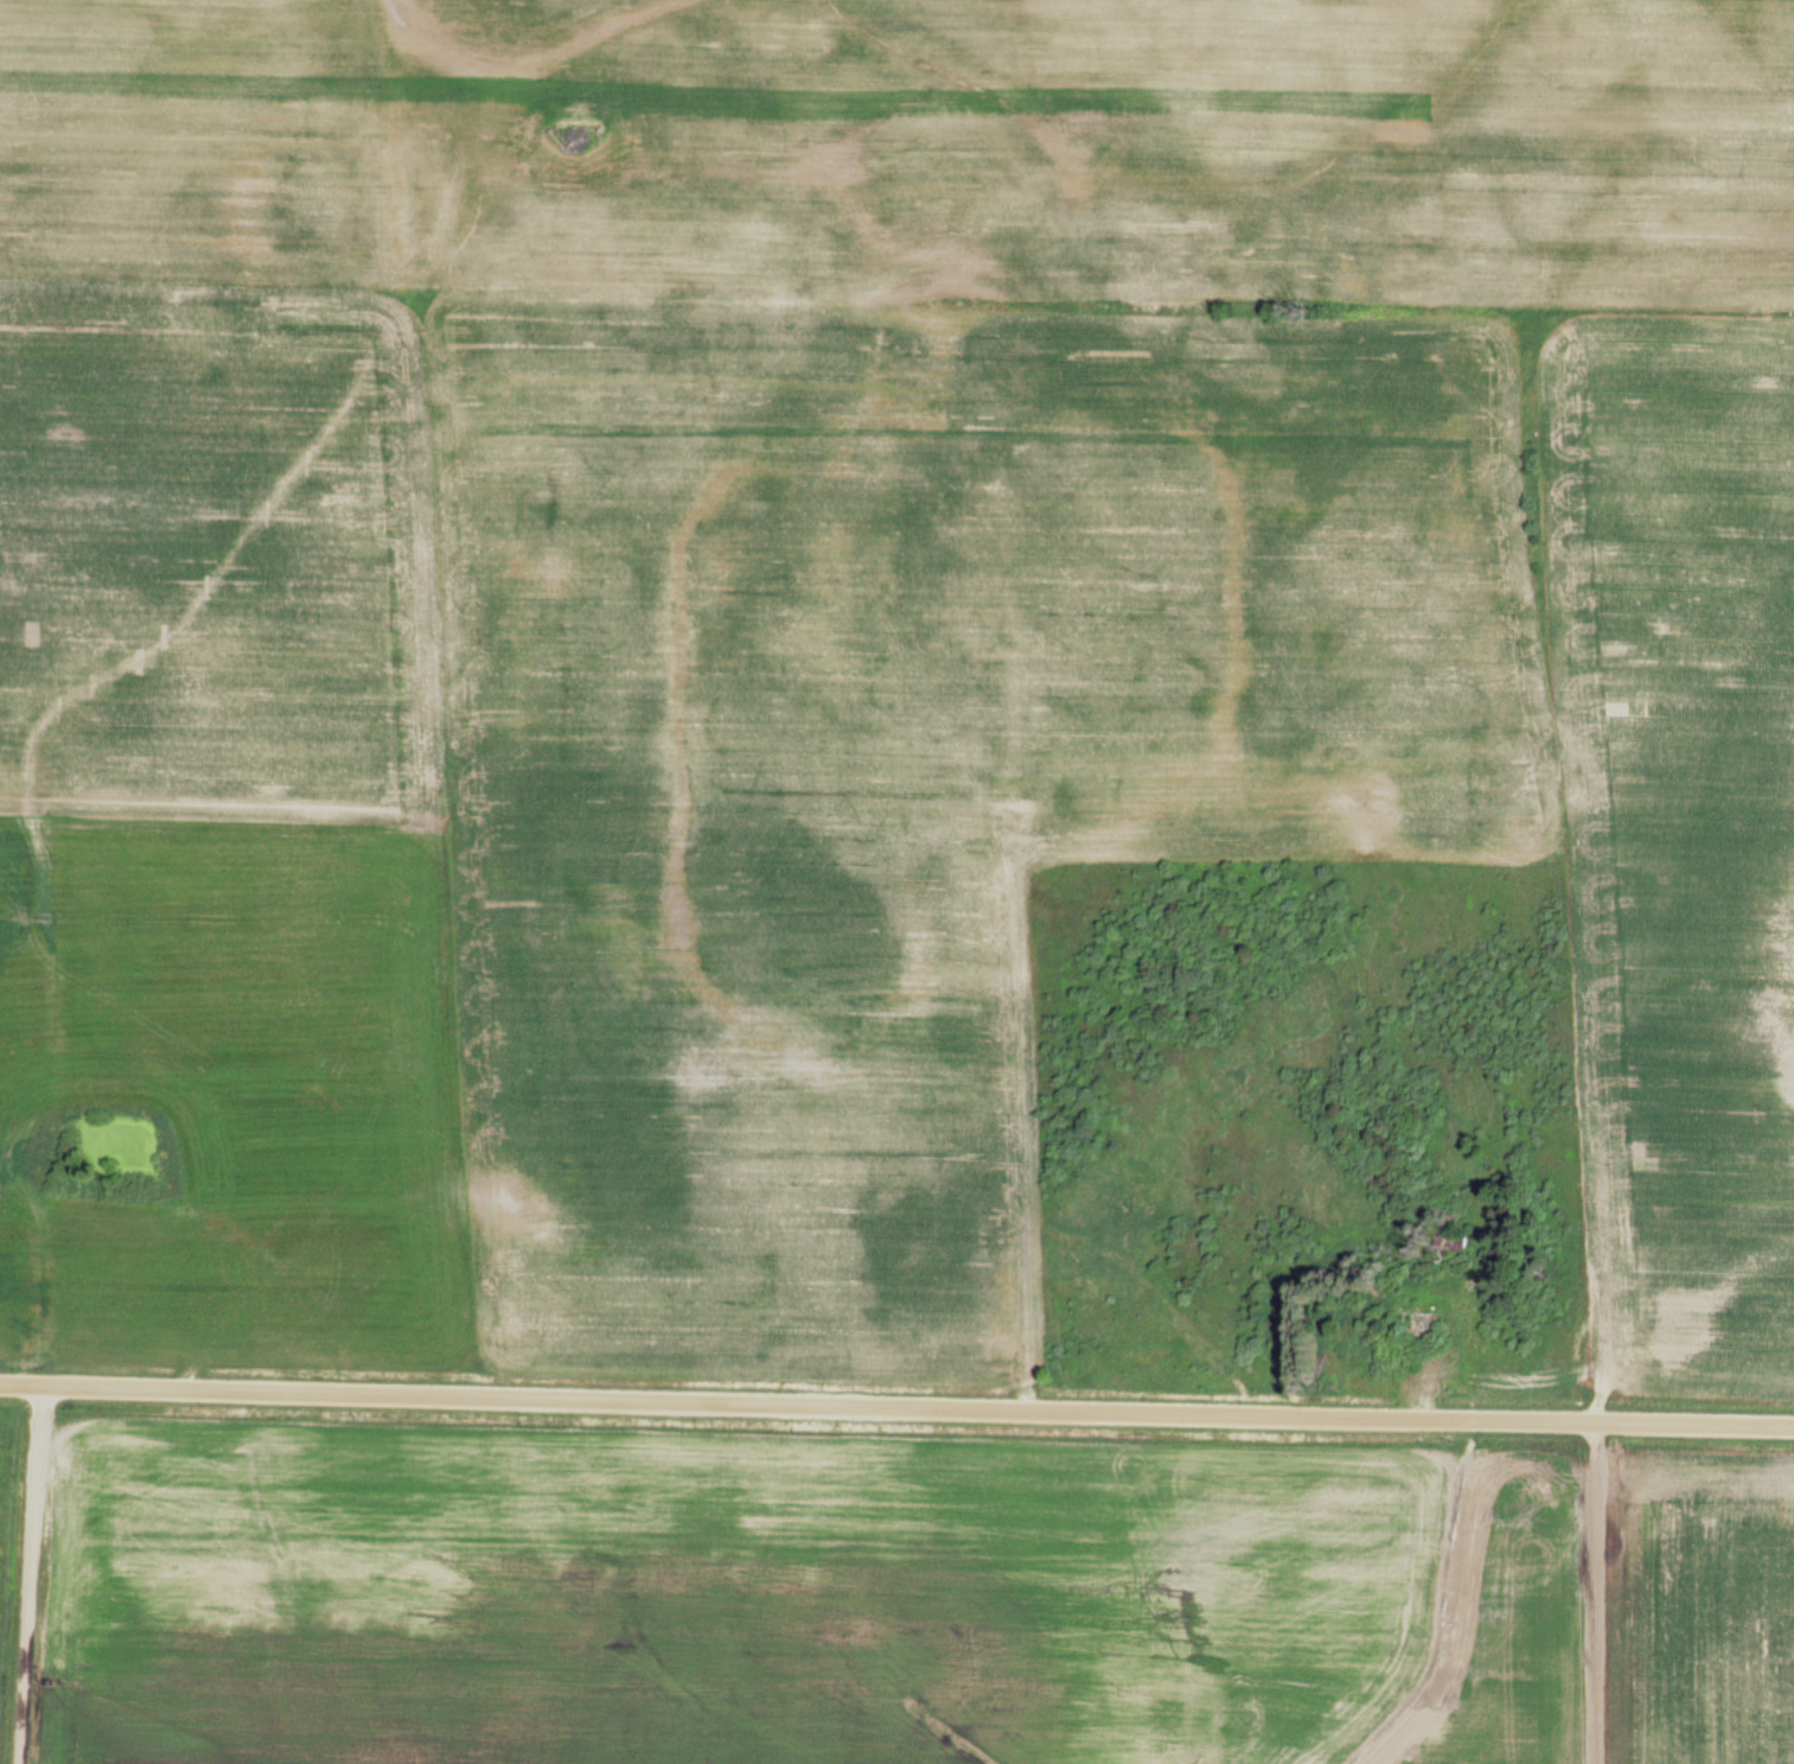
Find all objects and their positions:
building: (1410, 1325)
road: (896, 1381)

